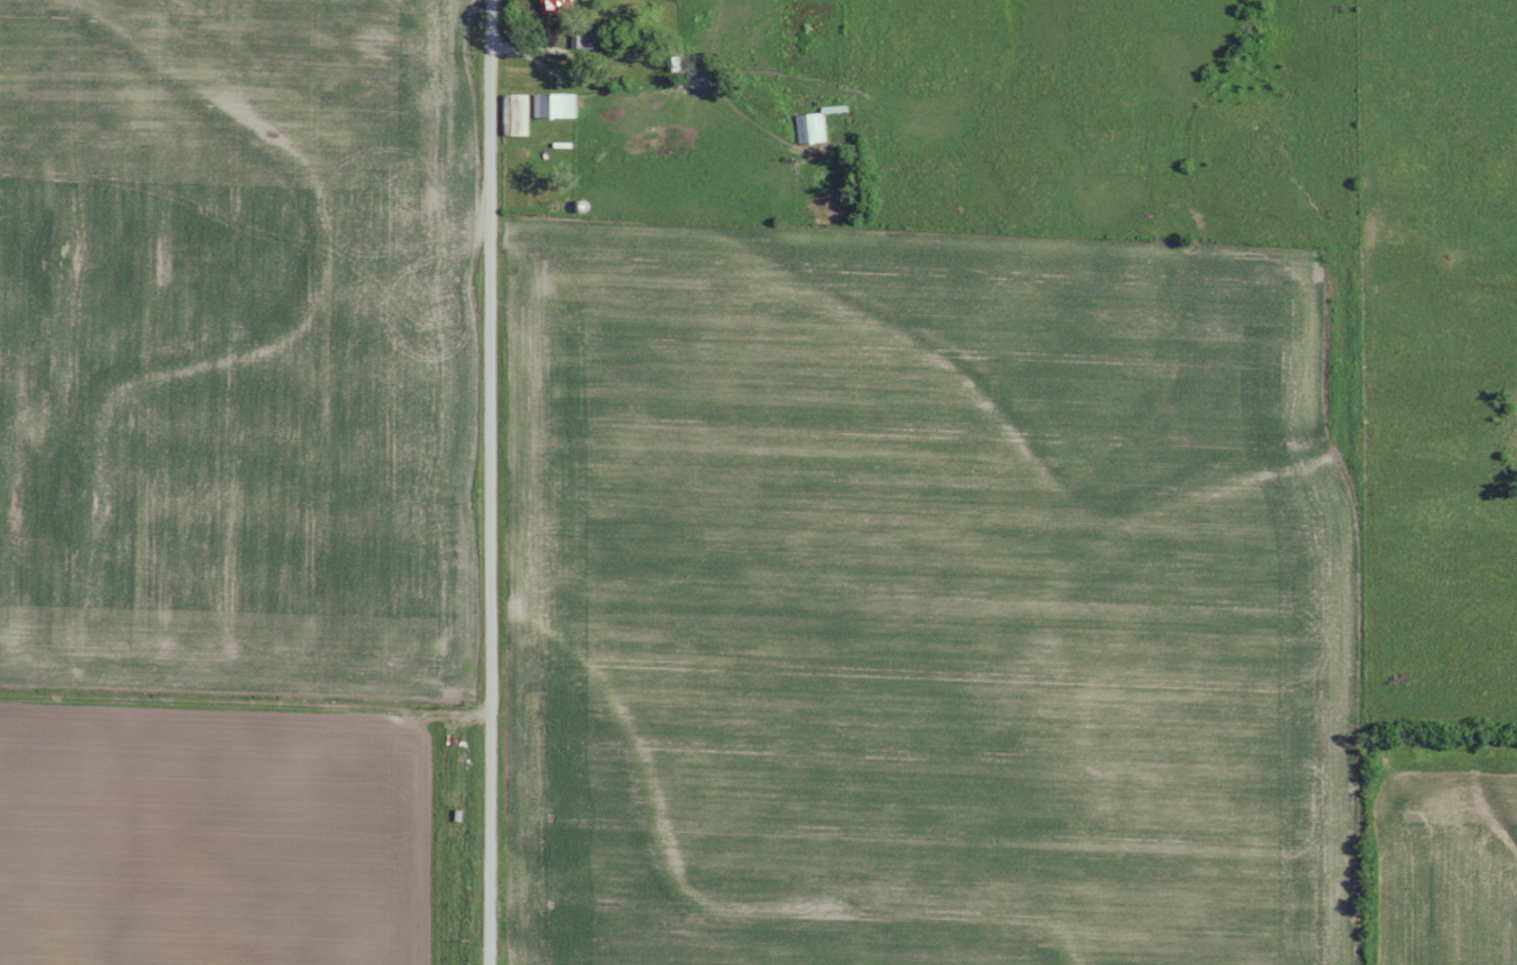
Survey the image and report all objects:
building: (561, 104)
building: (519, 114)
building: (810, 127)
road: (489, 482)

